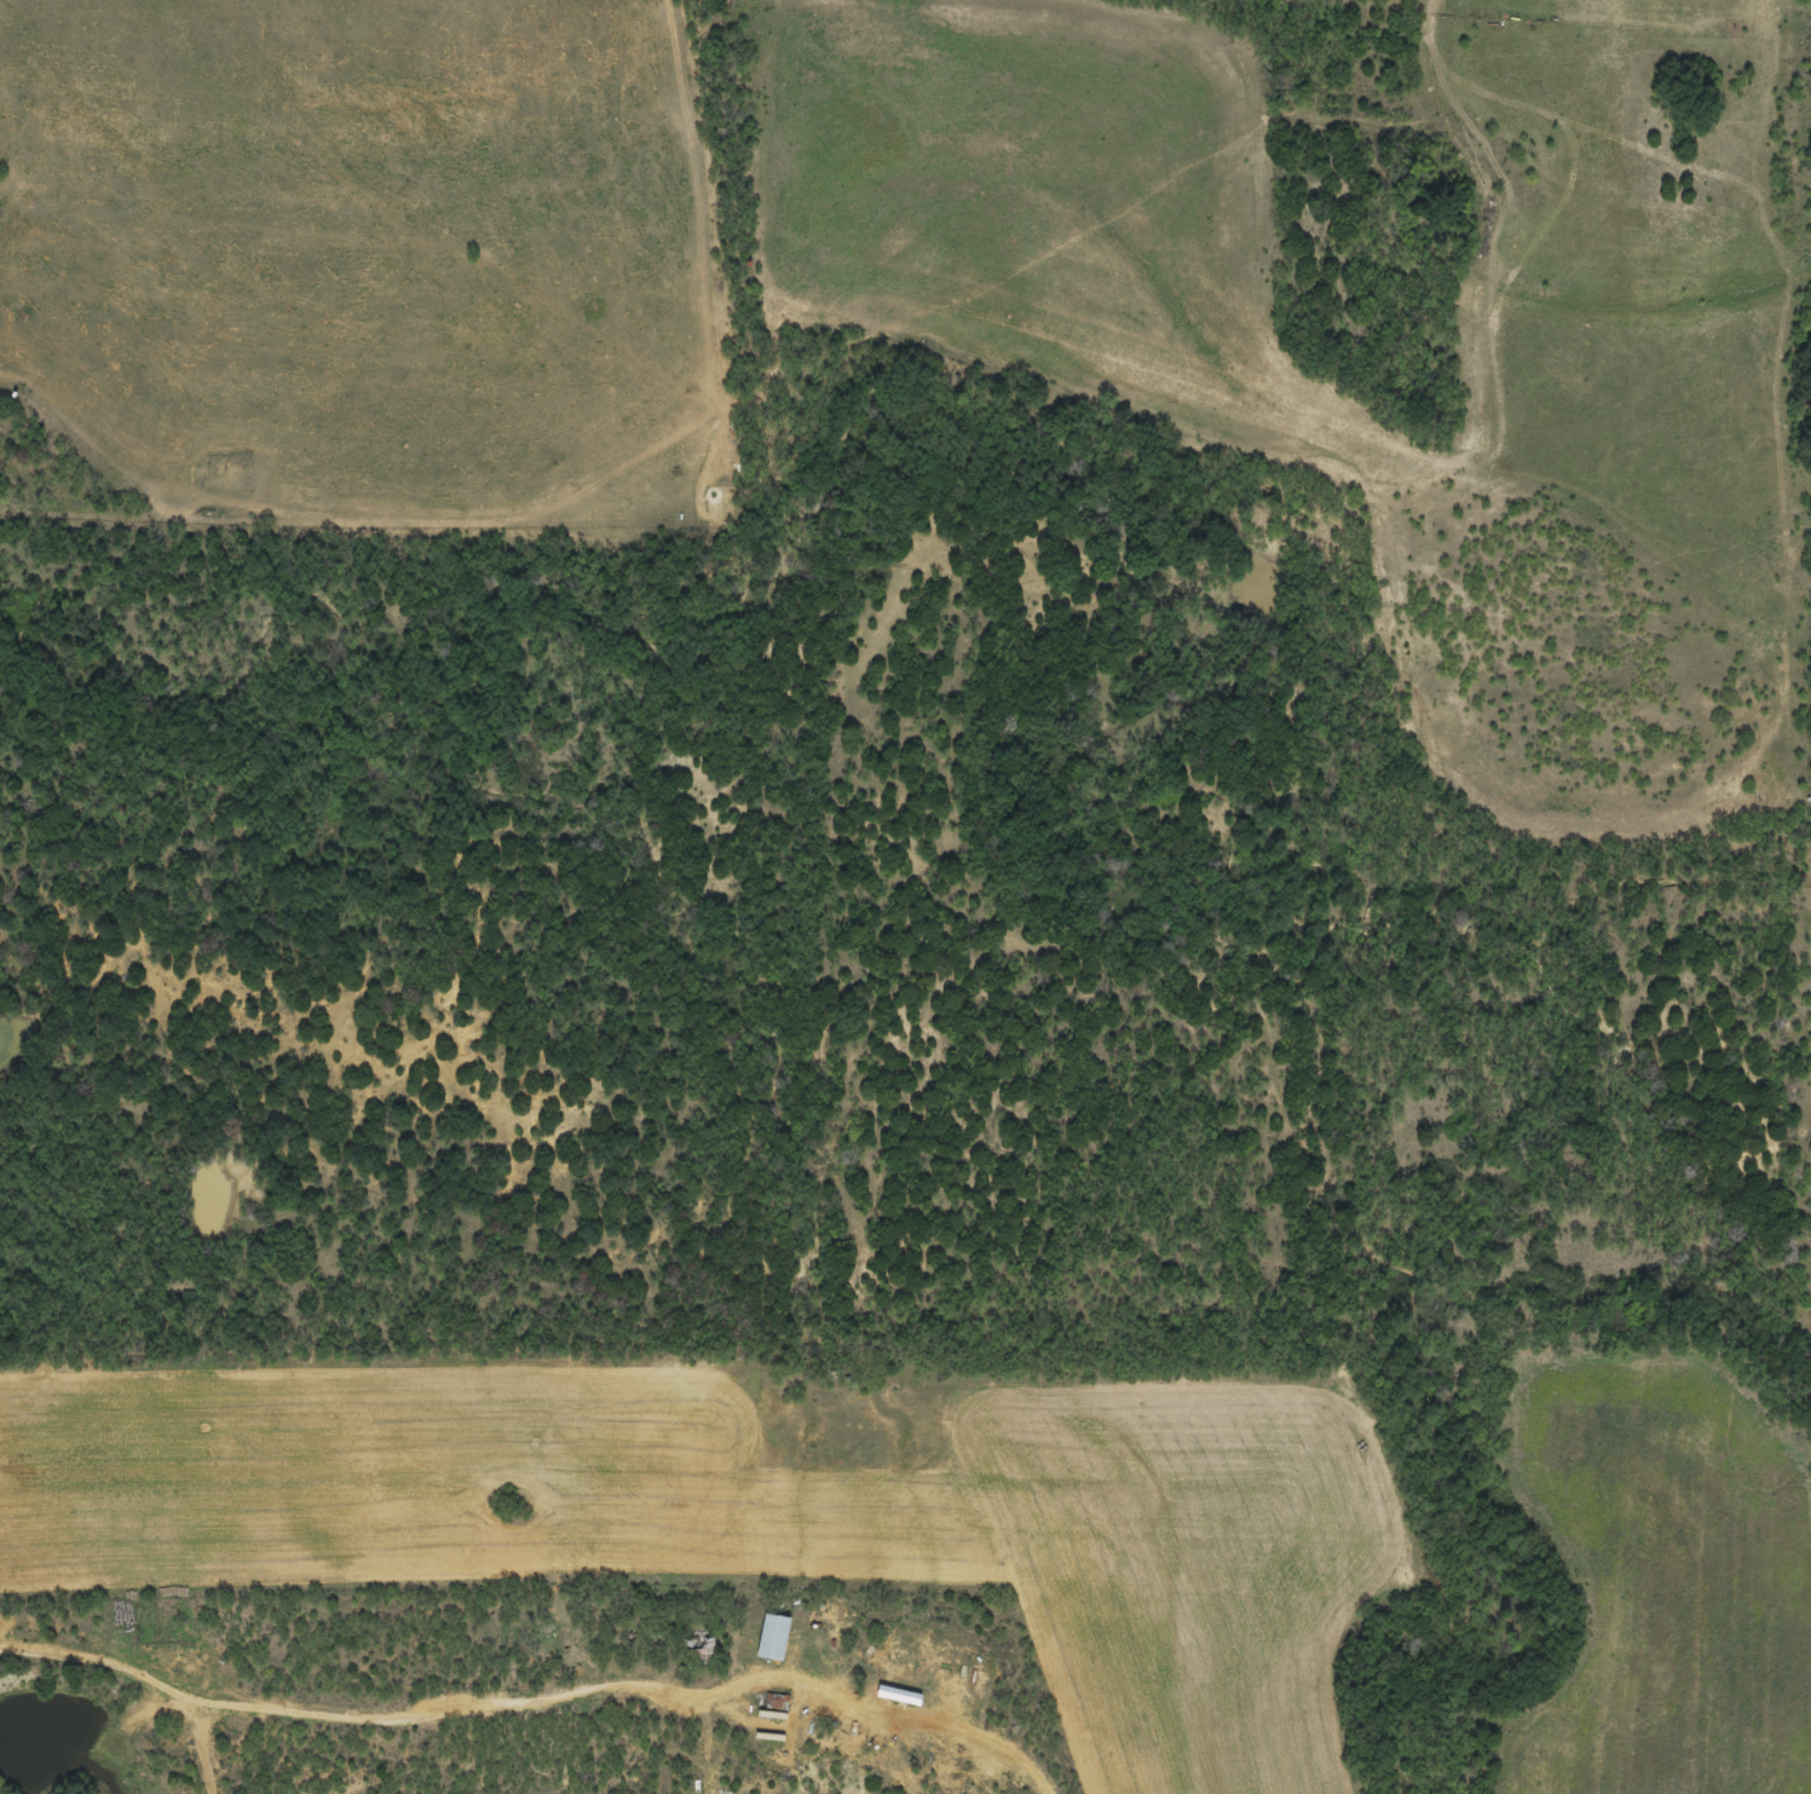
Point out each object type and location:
building: (774, 1645)
building: (899, 1703)
road: (500, 1707)

